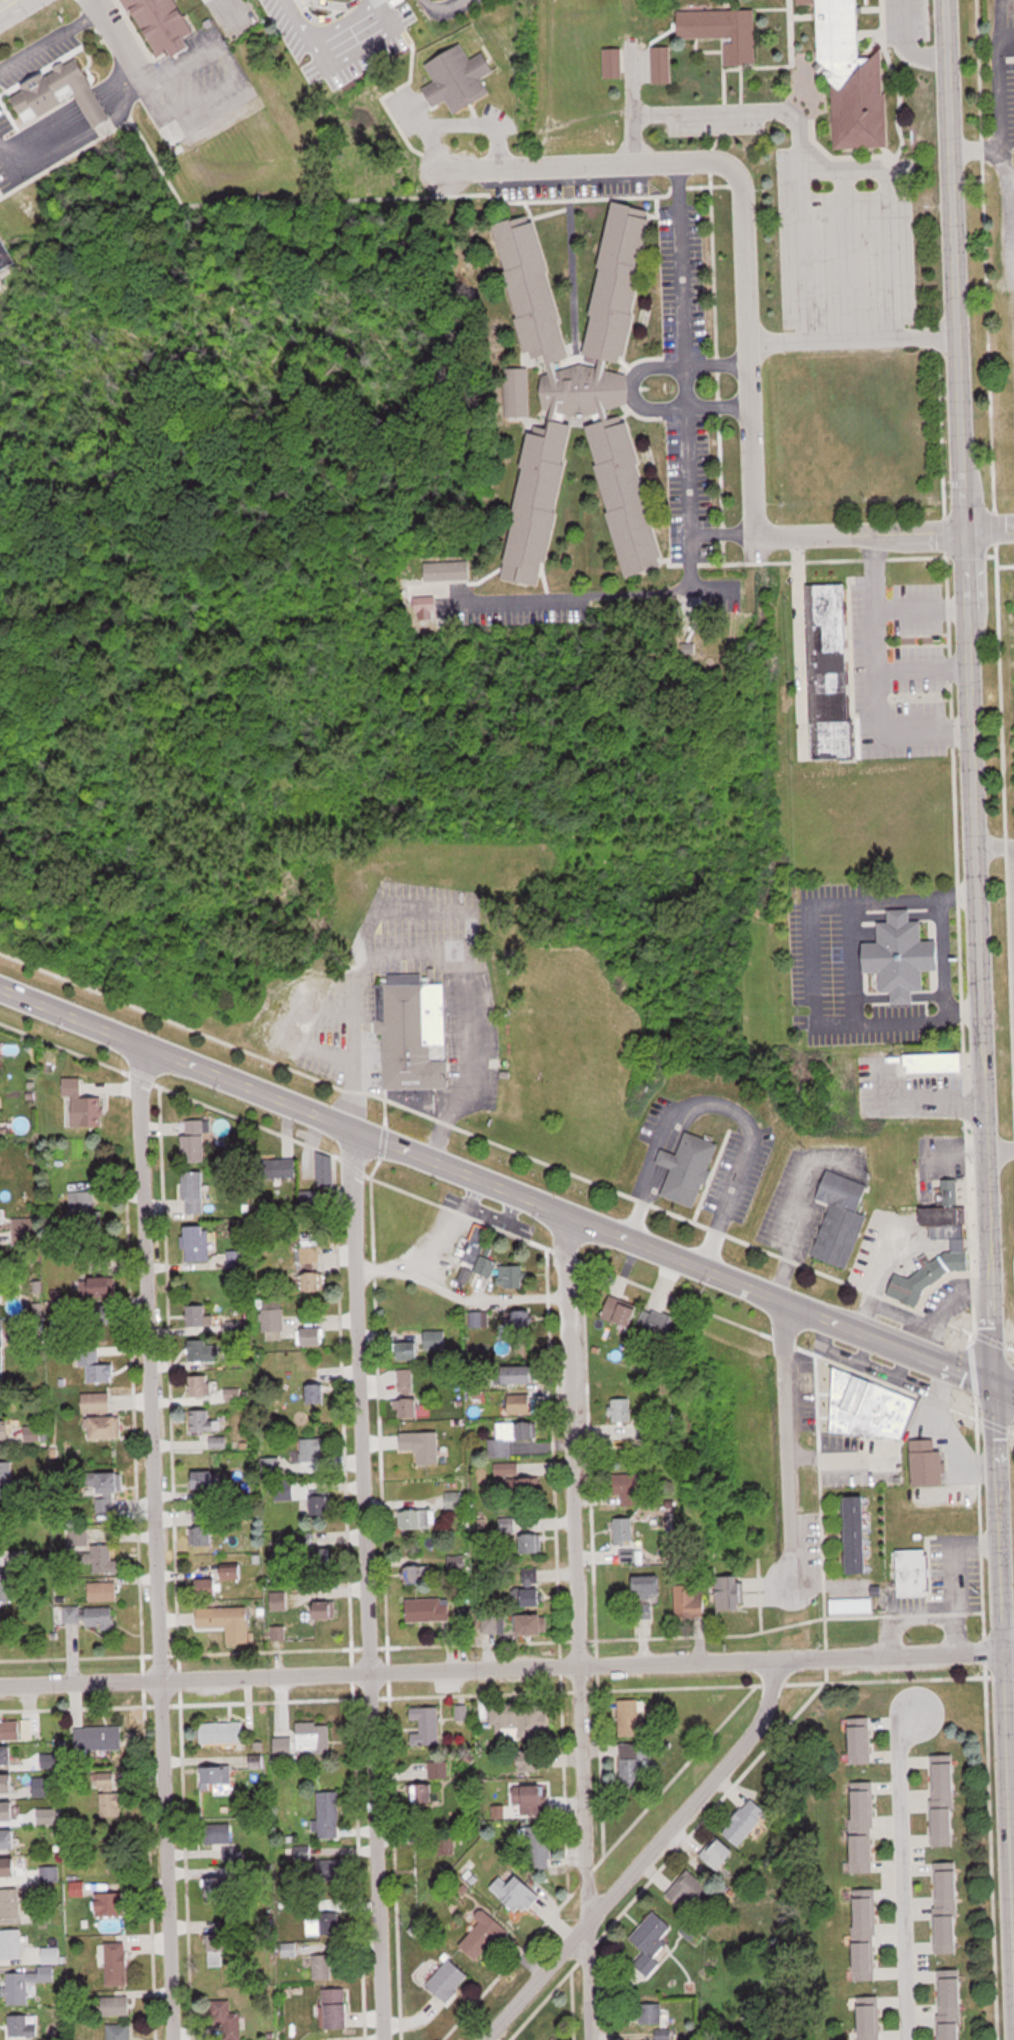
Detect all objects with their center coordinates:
road: (439, 9)
road: (996, 19)
building: (161, 25)
building: (724, 31)
road: (1005, 37)
road: (45, 47)
road: (906, 47)
road: (111, 51)
road: (337, 60)
building: (614, 63)
building: (662, 64)
building: (459, 79)
building: (852, 81)
building: (58, 95)
road: (995, 96)
road: (628, 107)
road: (69, 147)
road: (794, 152)
road: (586, 163)
road: (1001, 194)
road: (887, 213)
building: (5, 257)
road: (1013, 277)
road: (683, 288)
road: (849, 343)
road: (740, 350)
road: (635, 387)
building: (578, 392)
building: (518, 393)
road: (691, 409)
road: (689, 501)
road: (989, 527)
road: (861, 534)
building: (447, 571)
road: (616, 595)
road: (923, 609)
park: (718, 652)
road: (924, 670)
road: (878, 671)
building: (830, 672)
stadium: (1008, 701)
road: (994, 846)
road: (430, 950)
building: (901, 956)
road: (814, 959)
road: (977, 975)
building: (413, 1032)
building: (935, 1064)
building: (82, 1105)
road: (725, 1105)
building: (195, 1140)
road: (998, 1148)
building: (287, 1168)
building: (326, 1169)
building: (689, 1170)
road: (495, 1187)
building: (195, 1191)
building: (82, 1202)
road: (791, 1213)
building: (0, 1217)
road: (499, 1217)
building: (841, 1218)
road: (453, 1230)
building: (197, 1243)
building: (960, 1246)
building: (310, 1253)
building: (236, 1258)
building: (474, 1266)
road: (877, 1278)
building: (1, 1280)
building: (314, 1281)
building: (95, 1286)
road: (453, 1297)
building: (621, 1310)
road: (941, 1310)
road: (897, 1313)
building: (206, 1317)
building: (273, 1318)
building: (524, 1323)
building: (663, 1326)
building: (315, 1335)
building: (419, 1343)
building: (204, 1350)
building: (1, 1356)
building: (95, 1365)
building: (523, 1374)
building: (199, 1385)
road: (1003, 1386)
building: (408, 1392)
building: (316, 1393)
building: (233, 1394)
building: (97, 1402)
building: (522, 1406)
building: (869, 1408)
building: (621, 1409)
building: (202, 1421)
building: (106, 1427)
building: (5, 1430)
building: (33, 1433)
building: (514, 1438)
road: (787, 1439)
building: (218, 1442)
building: (427, 1448)
building: (312, 1454)
building: (928, 1463)
building: (275, 1465)
building: (6, 1479)
building: (204, 1479)
building: (110, 1482)
building: (517, 1483)
building: (630, 1490)
building: (281, 1491)
building: (454, 1500)
building: (321, 1505)
building: (419, 1519)
building: (507, 1526)
building: (203, 1527)
building: (624, 1531)
building: (858, 1533)
building: (305, 1539)
road: (150, 1541)
building: (532, 1543)
building: (654, 1544)
building: (322, 1552)
building: (105, 1558)
road: (954, 1564)
building: (417, 1571)
building: (233, 1572)
building: (914, 1572)
road: (359, 1583)
building: (209, 1586)
building: (647, 1587)
building: (103, 1591)
building: (730, 1593)
building: (533, 1597)
building: (690, 1600)
building: (279, 1601)
building: (326, 1610)
building: (425, 1610)
building: (91, 1616)
road: (920, 1616)
building: (228, 1621)
building: (495, 1624)
building: (534, 1624)
road: (571, 1627)
road: (1008, 1649)
road: (501, 1668)
building: (631, 1717)
building: (427, 1726)
building: (10, 1730)
building: (223, 1732)
building: (99, 1738)
building: (861, 1740)
building: (305, 1741)
building: (7, 1755)
building: (533, 1758)
building: (633, 1764)
building: (108, 1779)
building: (437, 1782)
building: (17, 1785)
building: (218, 1785)
building: (530, 1798)
building: (944, 1799)
building: (112, 1805)
building: (9, 1811)
building: (329, 1814)
building: (745, 1822)
building: (863, 1827)
building: (222, 1836)
building: (8, 1839)
building: (541, 1845)
building: (719, 1853)
building: (428, 1857)
road: (643, 1857)
building: (10, 1867)
building: (331, 1868)
building: (51, 1874)
road: (903, 1875)
building: (221, 1888)
building: (78, 1889)
building: (691, 1890)
building: (517, 1892)
building: (10, 1903)
building: (112, 1905)
building: (947, 1908)
building: (321, 1927)
building: (865, 1934)
building: (485, 1936)
building: (652, 1942)
building: (12, 1944)
building: (218, 1951)
building: (52, 1956)
building: (117, 1965)
building: (323, 1967)
building: (449, 1981)
building: (24, 1985)
building: (952, 2005)
building: (115, 2006)
building: (337, 2009)
building: (651, 2014)
building: (869, 2018)
building: (227, 2020)
building: (32, 2027)
building: (118, 2032)

